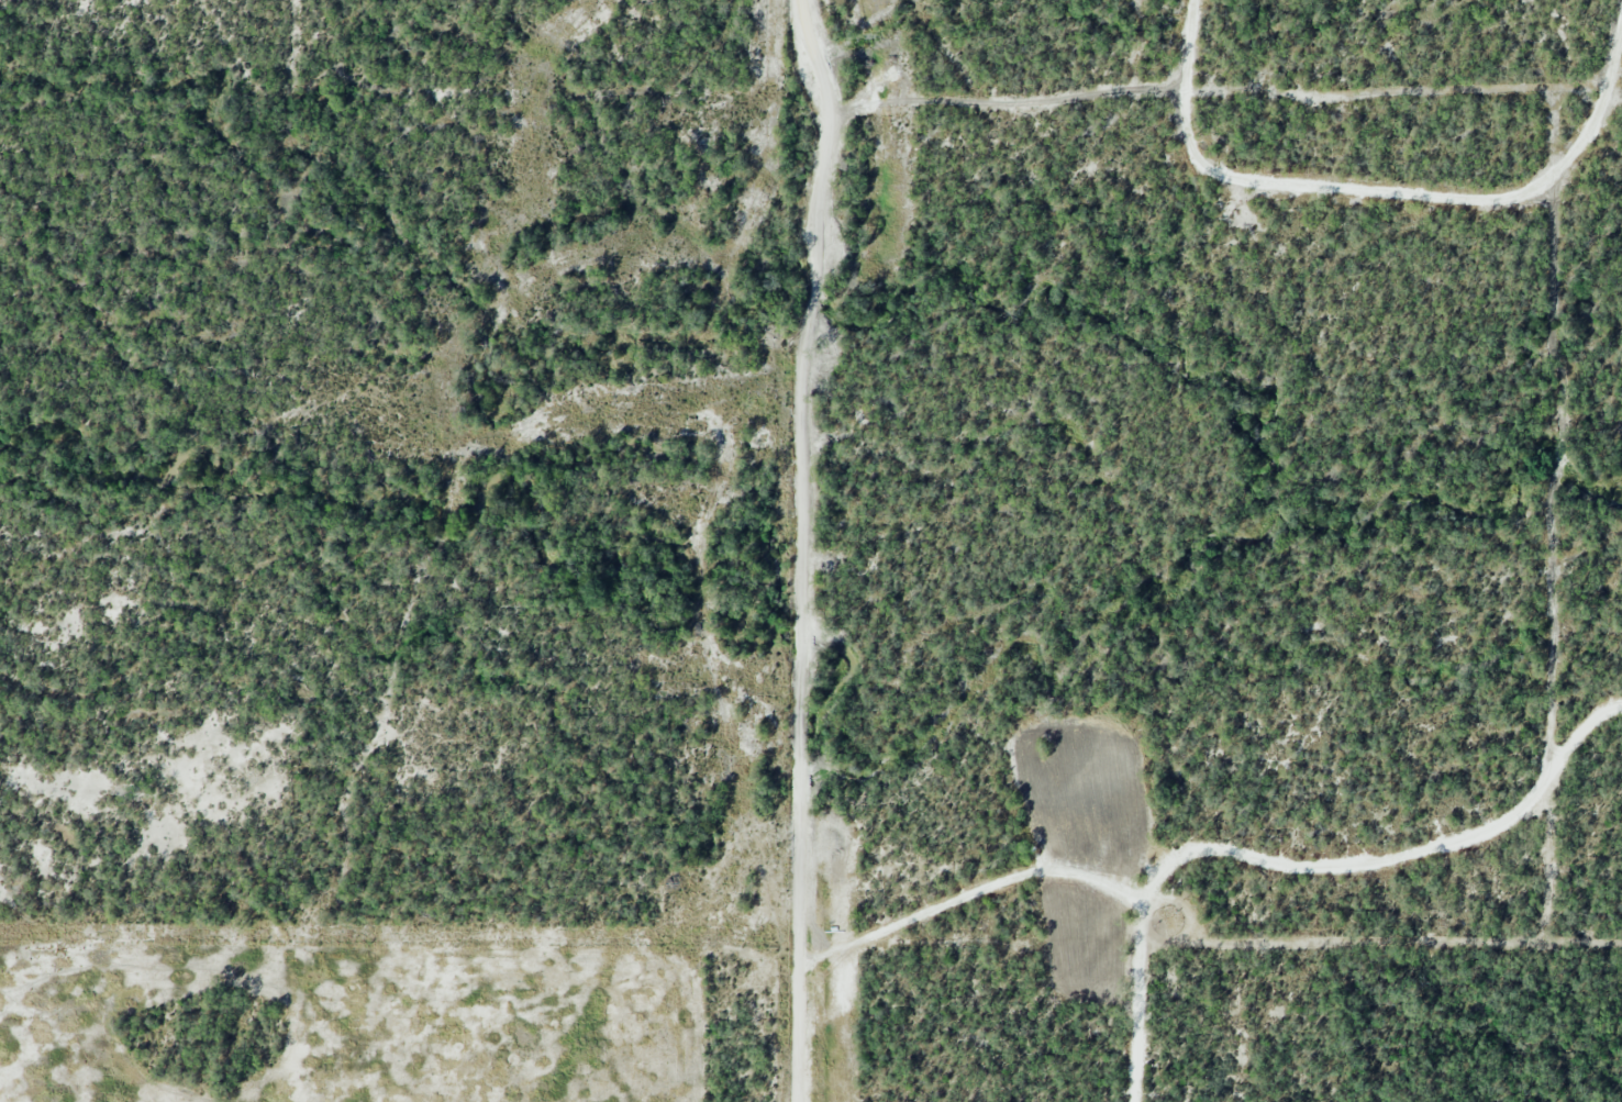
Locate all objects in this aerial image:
road: (1373, 193)
road: (1302, 867)

